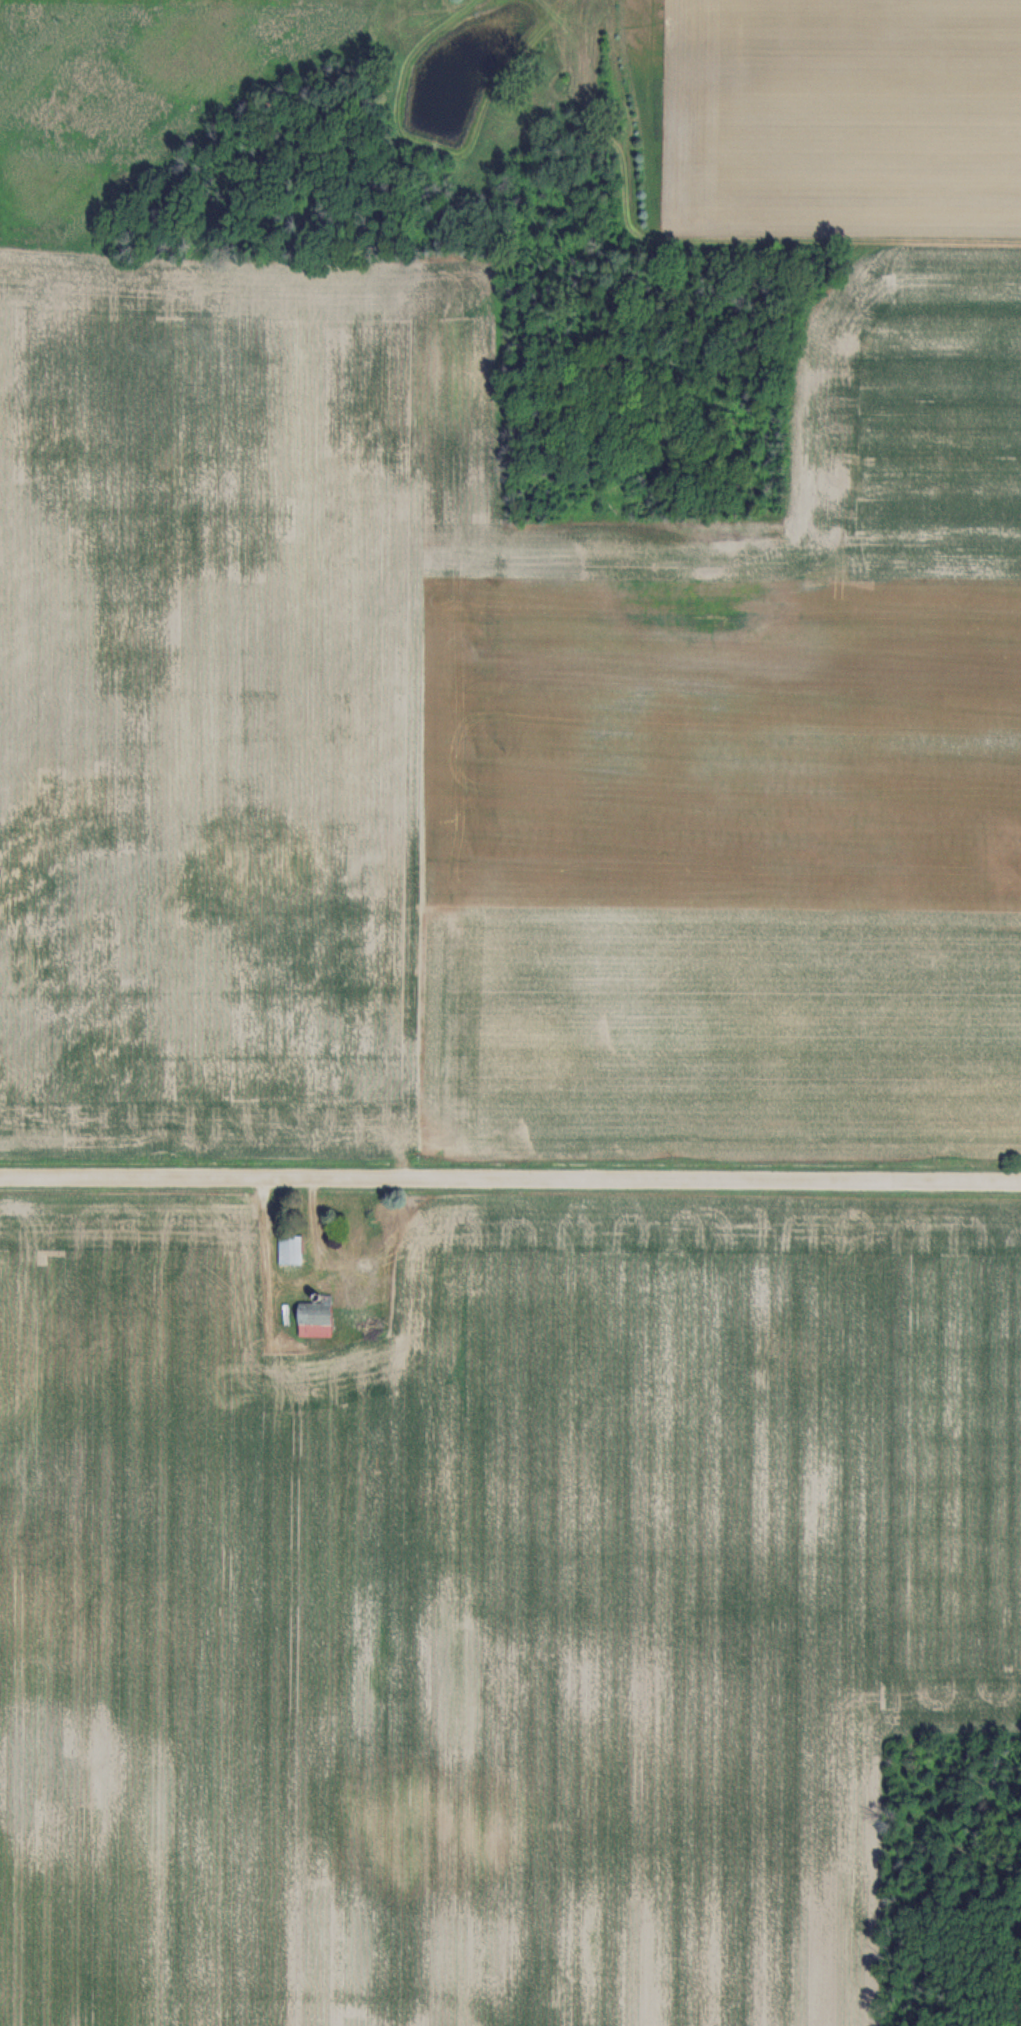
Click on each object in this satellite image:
road: (510, 1181)
building: (355, 1230)
building: (290, 1249)
building: (314, 1316)

